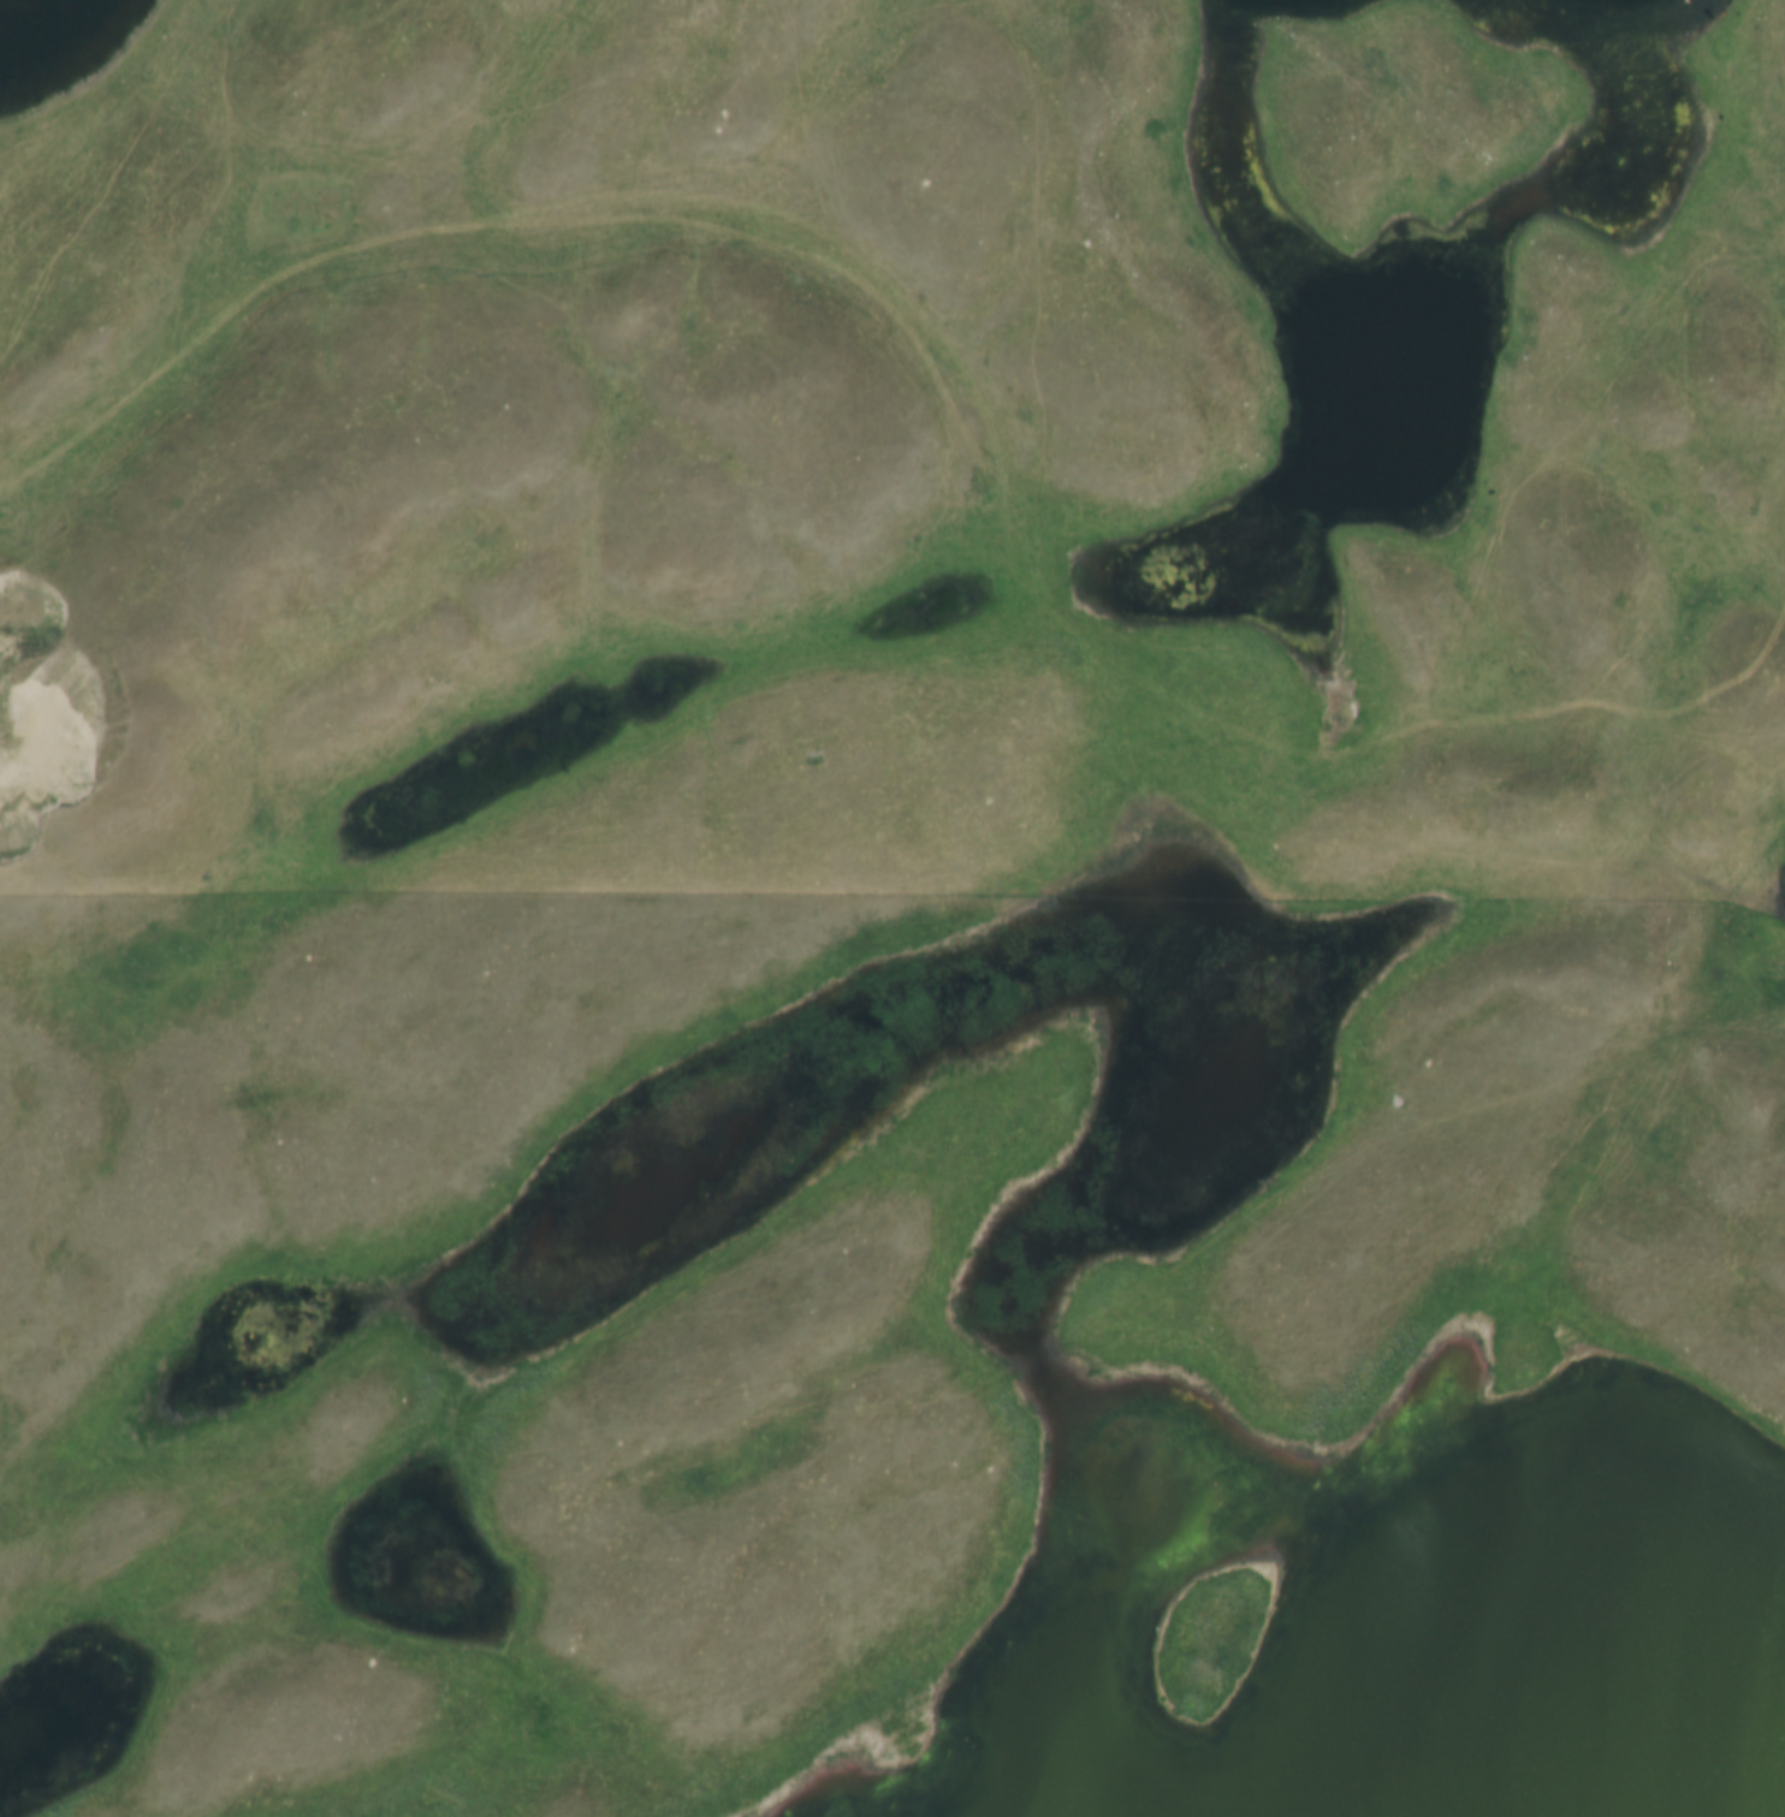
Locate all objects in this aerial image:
quarry: (42, 711)

